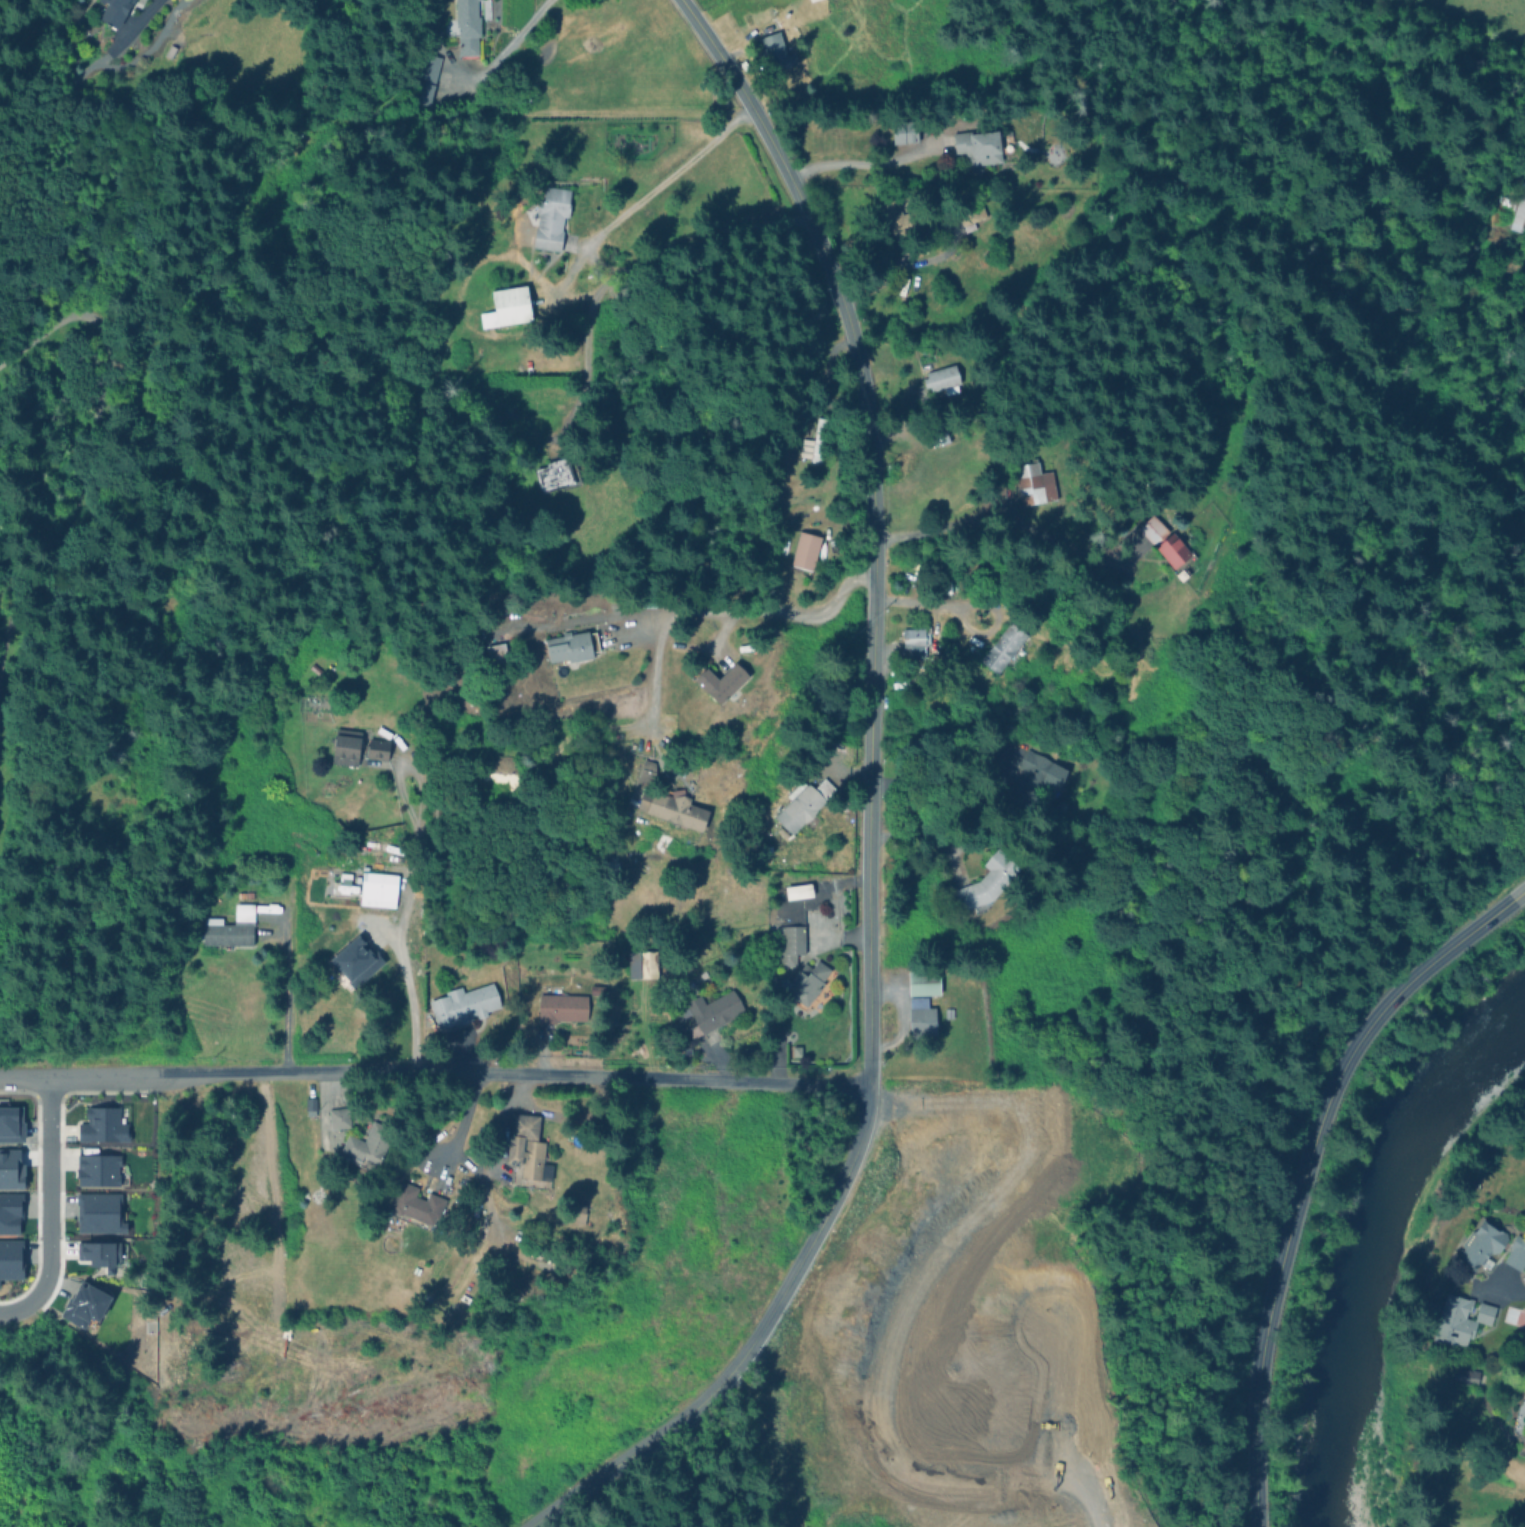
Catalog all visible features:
building: (810, 0)
building: (113, 11)
road: (140, 16)
building: (466, 27)
road: (512, 42)
building: (775, 52)
building: (425, 79)
building: (902, 132)
building: (974, 146)
road: (861, 163)
road: (668, 178)
building: (1514, 211)
building: (969, 216)
building: (550, 217)
building: (892, 217)
building: (506, 307)
building: (940, 378)
building: (817, 439)
road: (91, 441)
building: (553, 474)
building: (1033, 483)
road: (872, 520)
road: (934, 527)
road: (516, 529)
building: (1162, 540)
building: (804, 550)
road: (969, 628)
building: (912, 636)
building: (570, 646)
building: (1001, 647)
road: (656, 668)
building: (720, 681)
building: (347, 732)
building: (344, 746)
building: (376, 747)
building: (500, 766)
building: (645, 771)
building: (1036, 773)
building: (801, 803)
building: (670, 808)
building: (987, 882)
building: (377, 889)
building: (797, 891)
building: (230, 928)
road: (396, 929)
building: (790, 944)
building: (641, 964)
road: (1417, 972)
building: (805, 982)
building: (922, 982)
road: (285, 986)
building: (463, 1005)
building: (560, 1007)
building: (919, 1016)
road: (81, 1070)
road: (516, 1072)
building: (309, 1101)
building: (341, 1115)
building: (10, 1123)
building: (101, 1124)
road: (459, 1125)
building: (366, 1147)
building: (526, 1150)
building: (10, 1168)
building: (96, 1169)
road: (44, 1202)
building: (413, 1205)
building: (98, 1211)
building: (579, 1211)
building: (9, 1216)
building: (1480, 1239)
river: (1367, 1240)
building: (1514, 1250)
building: (98, 1251)
building: (10, 1268)
road: (1510, 1288)
road: (1267, 1299)
building: (83, 1304)
building: (1456, 1316)
road: (750, 1342)
building: (1464, 1374)
building: (1524, 1389)
building: (1524, 1427)

